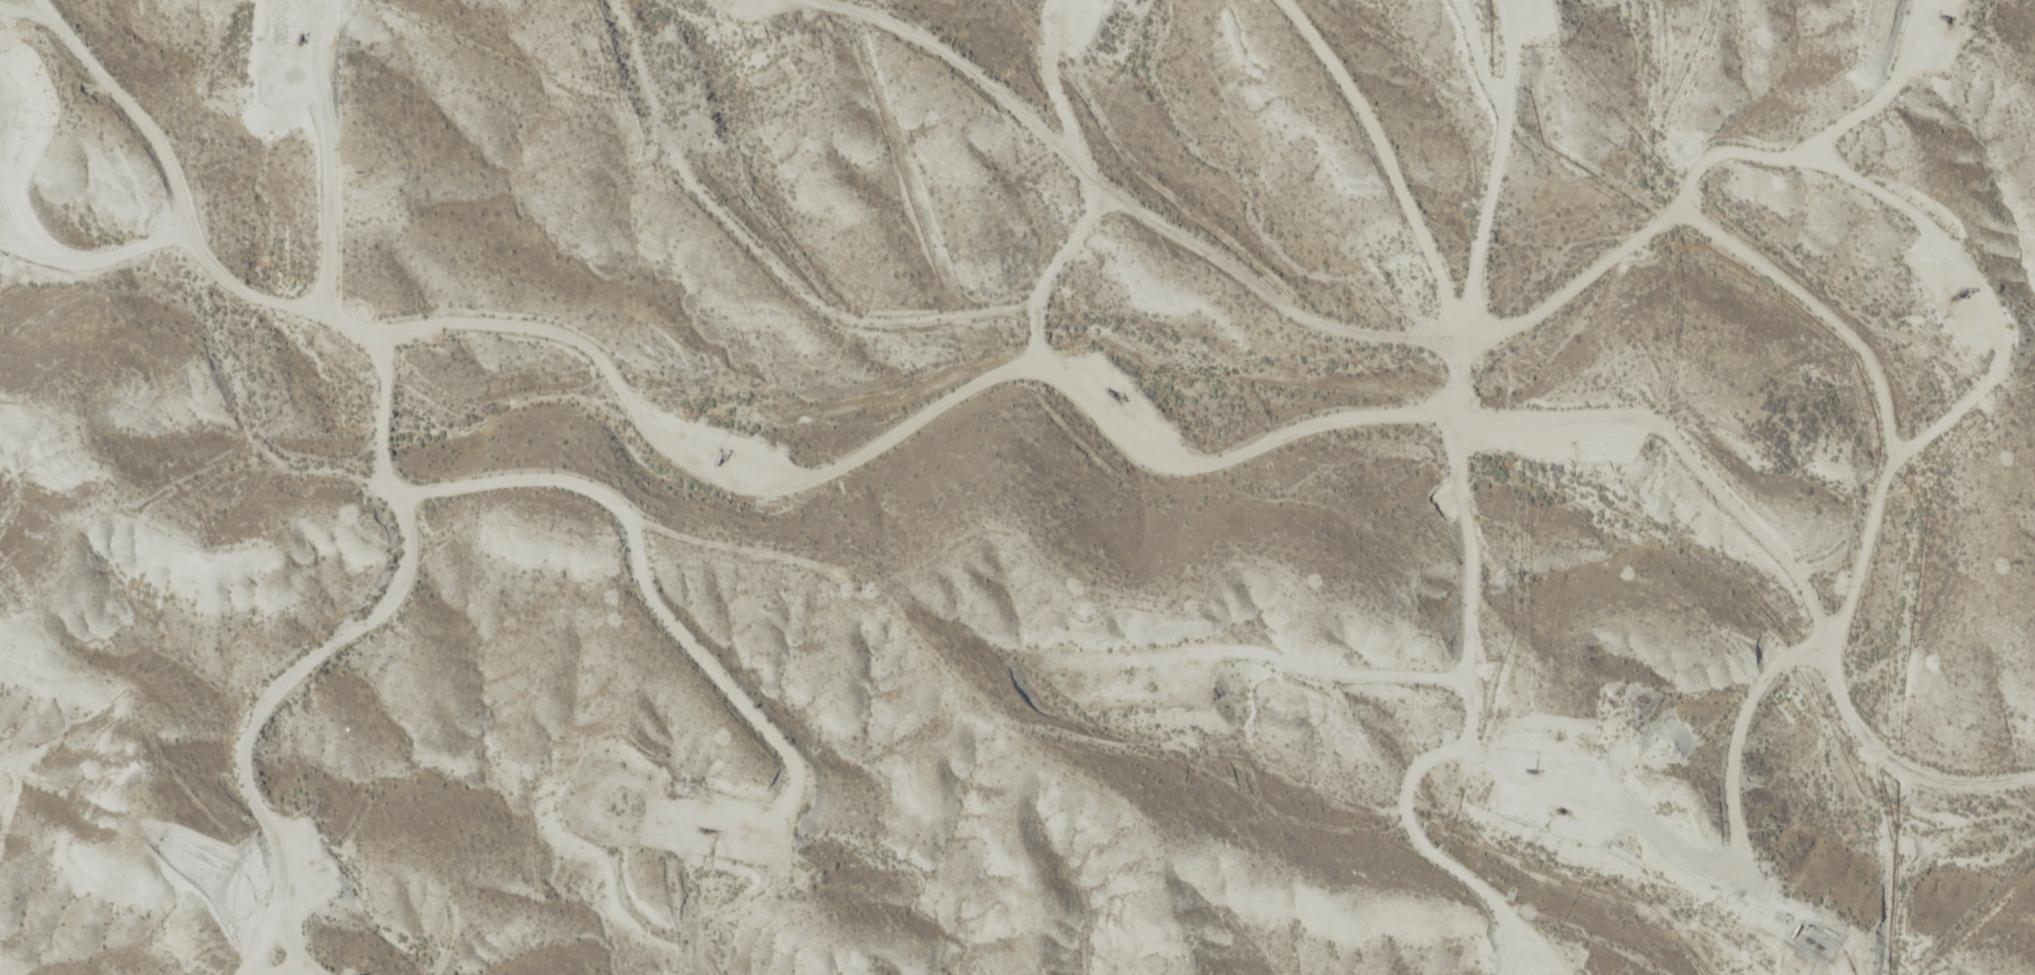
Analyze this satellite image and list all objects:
petroleum well: (1944, 16)
road: (1111, 197)
road: (1452, 212)
road: (1055, 280)
petroleum well: (1111, 398)
road: (1404, 425)
road: (387, 450)
road: (1468, 588)
road: (1895, 765)
petroleum well: (1531, 770)
petroleum well: (1558, 809)

